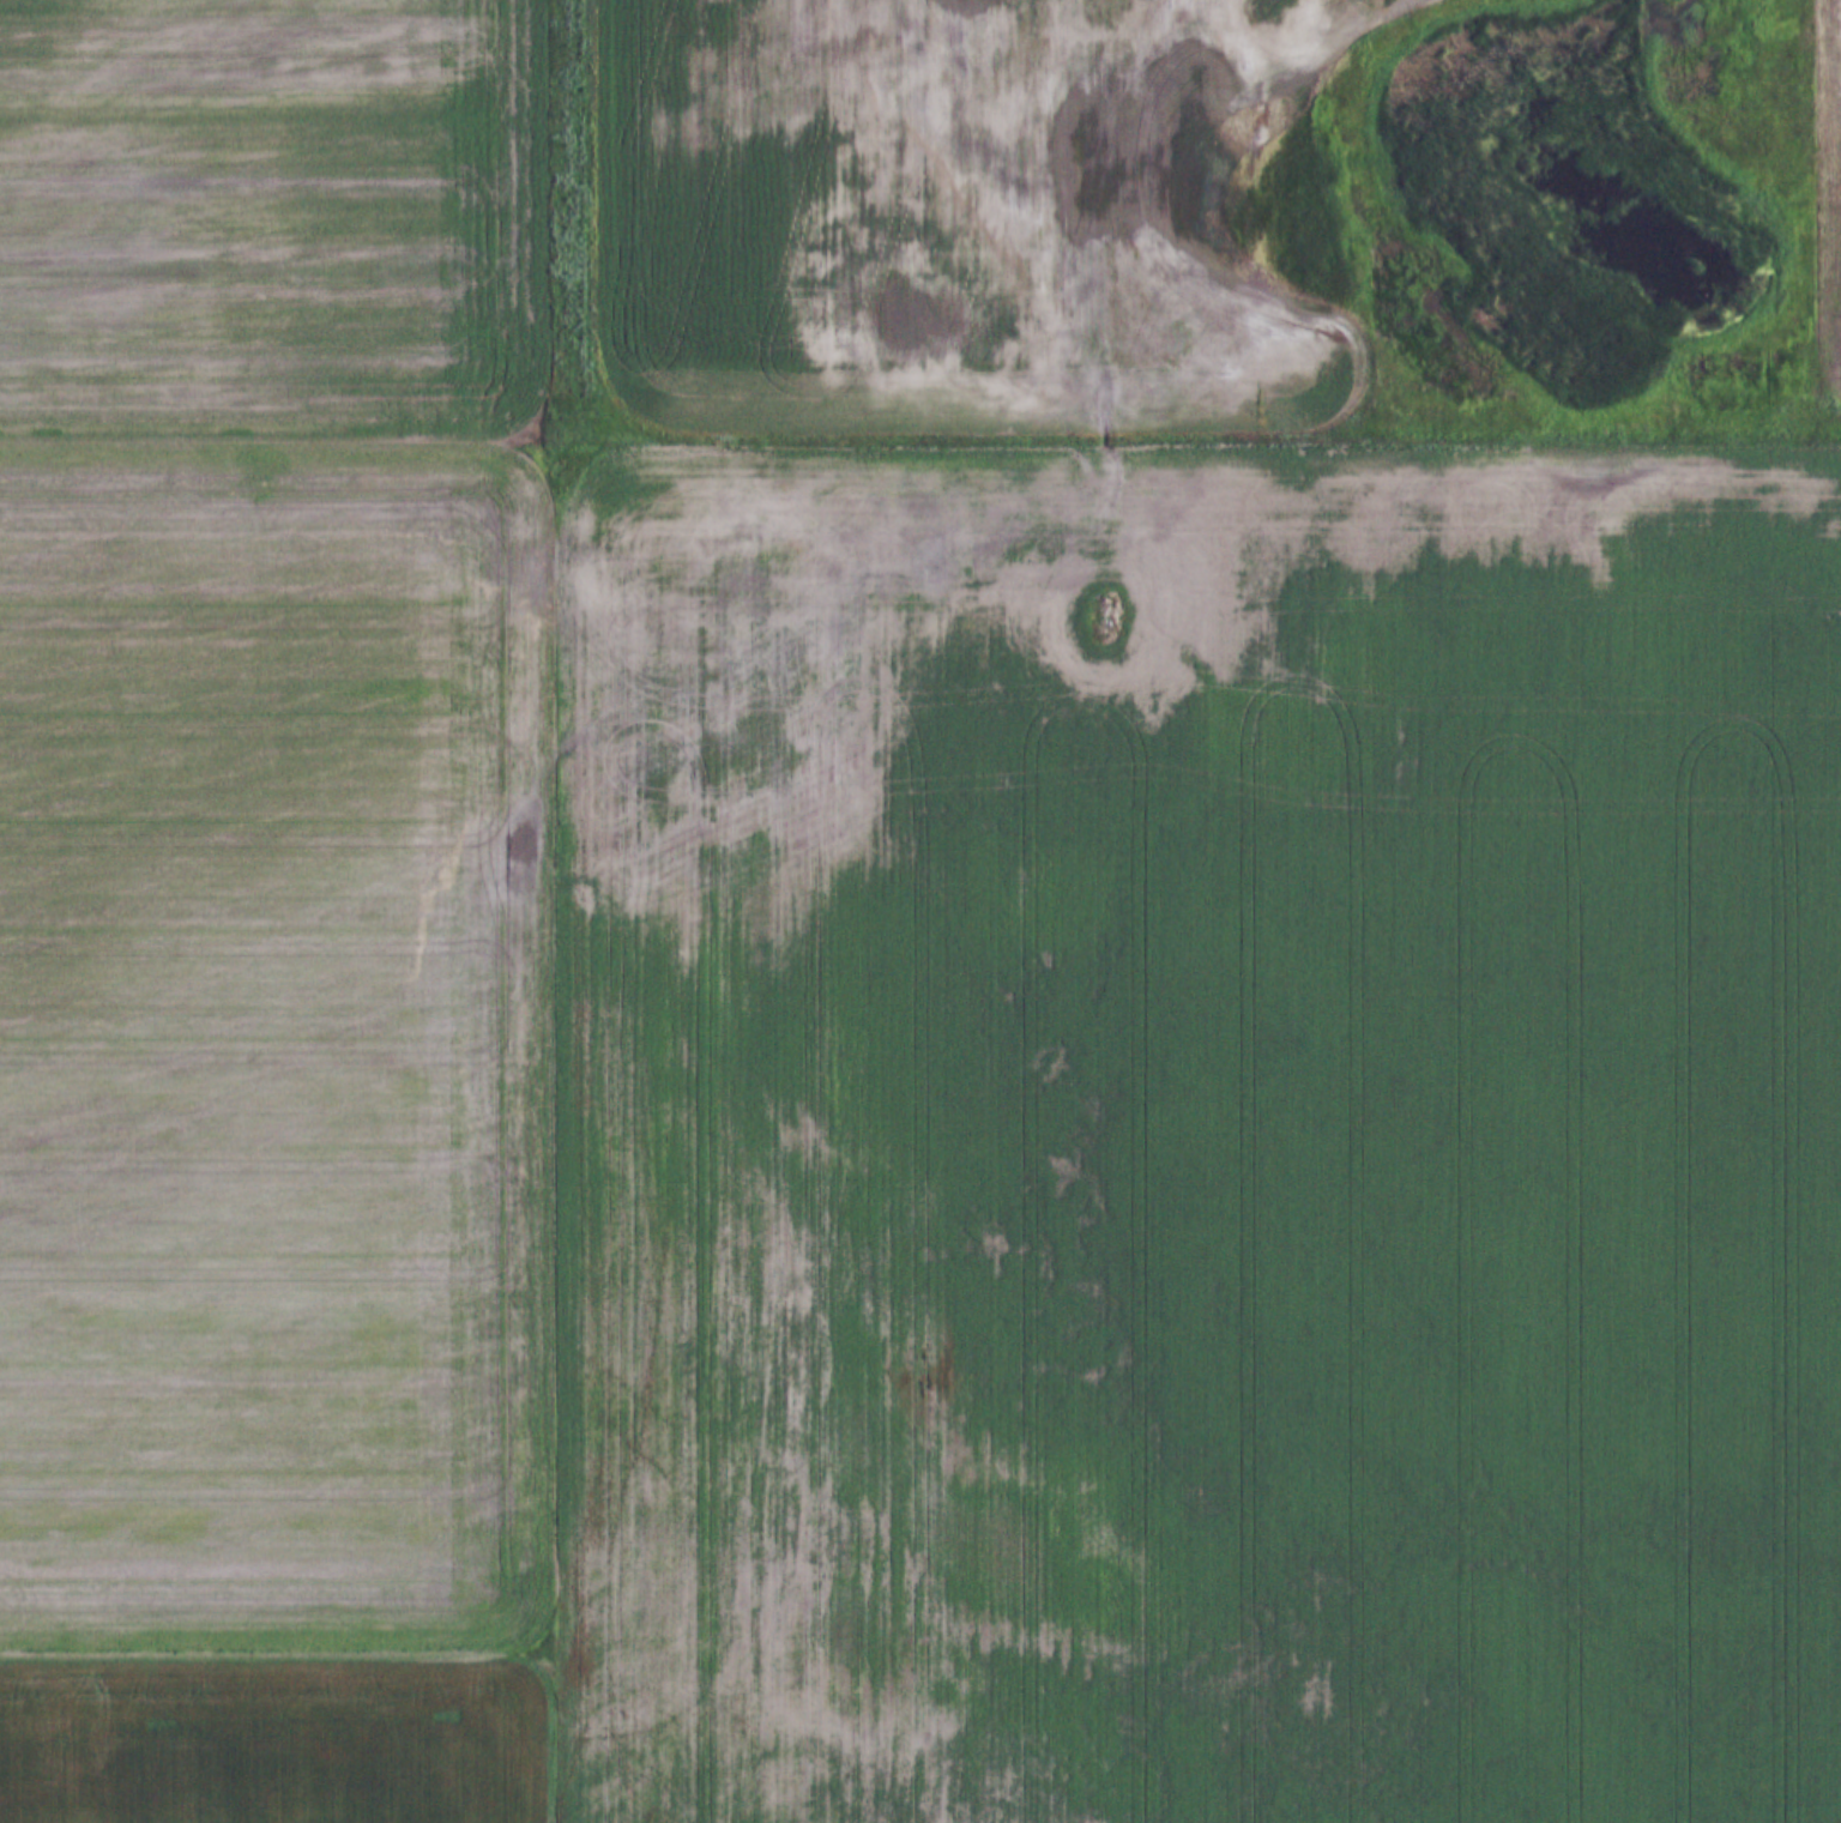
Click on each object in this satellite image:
road: (1202, 447)

